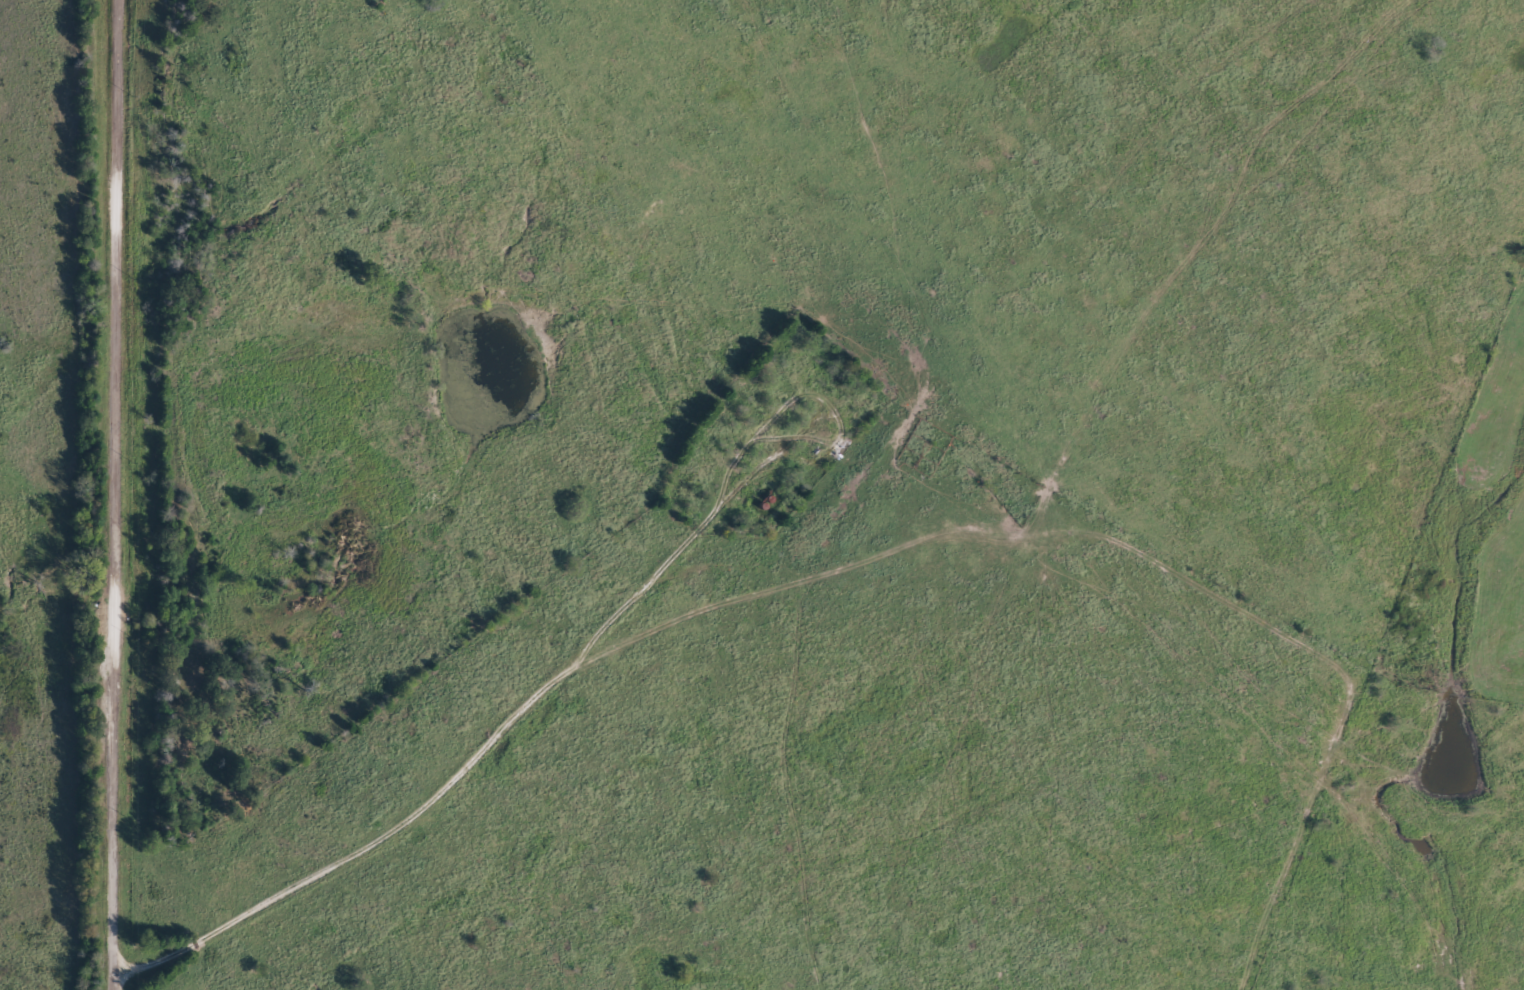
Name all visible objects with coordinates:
road: (131, 495)

